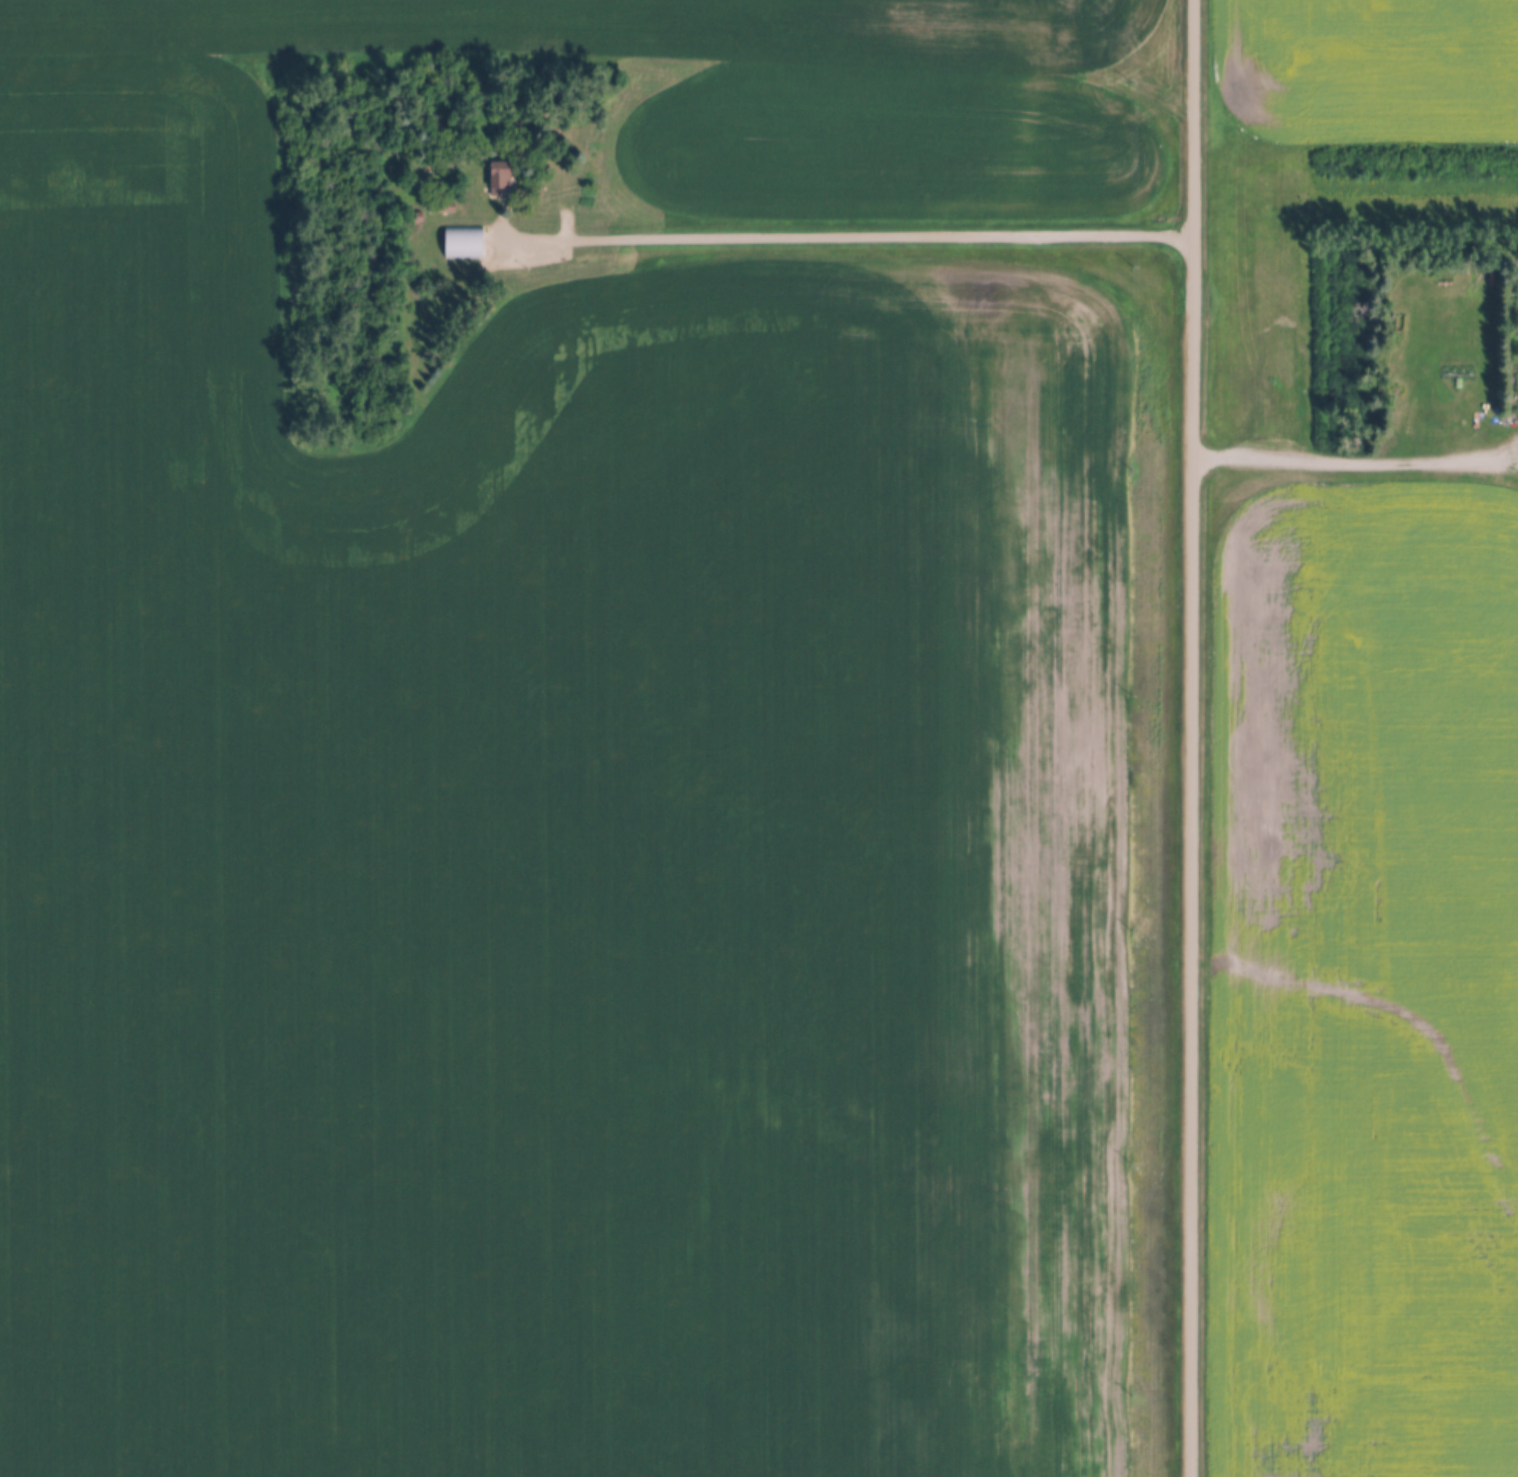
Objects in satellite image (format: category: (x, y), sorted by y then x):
building: (502, 181)
road: (849, 236)
building: (465, 243)
building: (1517, 388)
road: (1356, 465)
road: (1193, 738)

